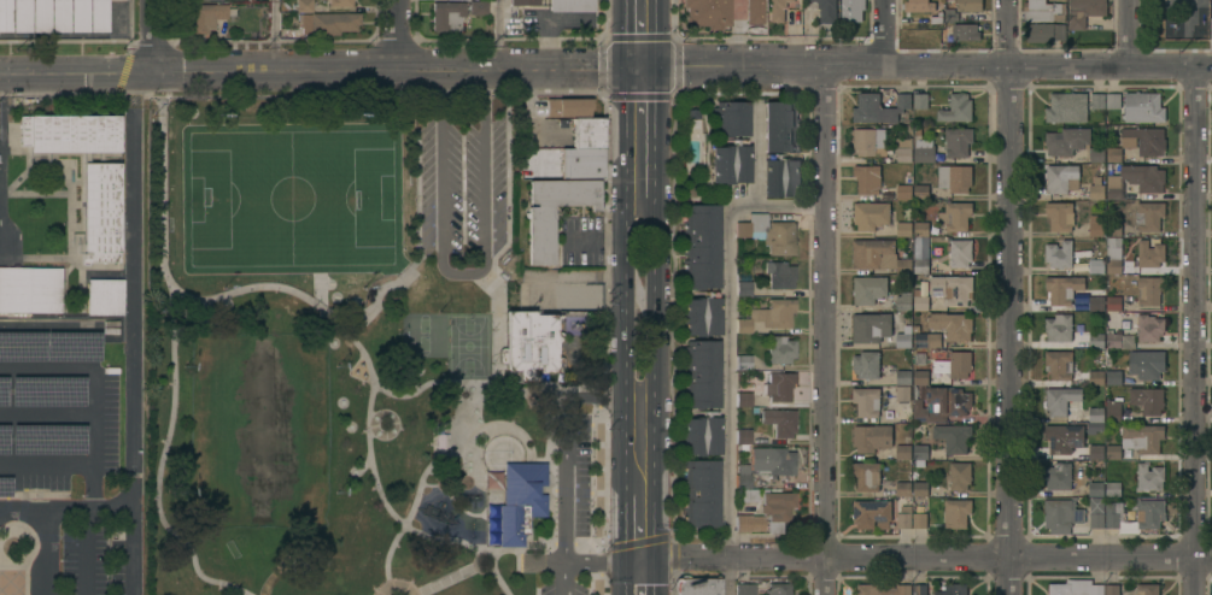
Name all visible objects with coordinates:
building: (197, 0)
building: (522, 2)
building: (339, 4)
building: (570, 5)
building: (919, 5)
building: (968, 5)
building: (303, 6)
building: (478, 7)
building: (777, 10)
building: (826, 10)
building: (851, 10)
building: (1043, 10)
building: (754, 11)
building: (1084, 11)
building: (708, 13)
building: (4, 16)
building: (19, 16)
building: (39, 16)
building: (58, 16)
building: (77, 16)
building: (96, 16)
building: (446, 16)
building: (204, 17)
building: (333, 23)
building: (965, 31)
building: (1044, 31)
road: (494, 34)
road: (625, 34)
road: (657, 34)
road: (890, 34)
road: (1132, 34)
road: (273, 35)
road: (403, 35)
road: (154, 36)
road: (605, 67)
traffic signals: (626, 67)
traffic signals: (657, 67)
building: (920, 100)
building: (1097, 100)
building: (1112, 100)
building: (879, 107)
building: (1066, 107)
building: (1143, 107)
building: (956, 108)
road: (508, 111)
building: (730, 119)
building: (780, 126)
building: (586, 132)
road: (625, 136)
building: (1066, 140)
building: (1146, 140)
building: (868, 141)
building: (958, 141)
road: (657, 147)
building: (924, 149)
building: (903, 154)
building: (1096, 154)
building: (1113, 154)
building: (580, 163)
building: (730, 163)
road: (162, 165)
building: (86, 172)
building: (780, 176)
parking lot: (462, 177)
building: (955, 177)
building: (867, 178)
building: (1061, 178)
building: (1135, 181)
building: (903, 192)
building: (920, 192)
building: (1096, 192)
park: (294, 199)
building: (871, 214)
building: (955, 216)
building: (1060, 216)
building: (1149, 216)
building: (1096, 224)
building: (903, 229)
building: (921, 229)
building: (1113, 229)
building: (768, 234)
building: (539, 237)
building: (701, 246)
building: (959, 253)
building: (1059, 254)
building: (1113, 254)
building: (878, 255)
building: (1150, 255)
building: (920, 265)
building: (1096, 266)
building: (779, 275)
road: (464, 276)
building: (743, 288)
building: (1062, 288)
building: (870, 289)
building: (953, 289)
building: (1149, 289)
building: (30, 290)
building: (104, 296)
building: (920, 297)
road: (1012, 297)
building: (903, 300)
building: (1096, 302)
building: (1113, 304)
building: (775, 313)
building: (701, 316)
building: (742, 325)
building: (952, 325)
building: (871, 326)
building: (1149, 326)
building: (1059, 328)
road: (825, 331)
road: (1195, 331)
road: (130, 332)
building: (904, 337)
building: (927, 340)
building: (1096, 340)
building: (1119, 340)
park: (376, 342)
road: (625, 342)
building: (529, 344)
park: (469, 346)
building: (49, 348)
building: (780, 349)
road: (730, 354)
building: (742, 363)
building: (952, 363)
building: (866, 364)
building: (1059, 364)
building: (1147, 364)
building: (1111, 372)
building: (701, 375)
building: (903, 377)
building: (920, 377)
building: (1096, 377)
building: (780, 387)
building: (47, 391)
building: (2, 393)
building: (900, 393)
road: (657, 394)
road: (601, 399)
building: (1060, 399)
road: (597, 400)
building: (743, 400)
building: (1147, 400)
building: (867, 401)
building: (943, 403)
building: (1113, 410)
road: (46, 416)
road: (92, 417)
parking lot: (58, 419)
building: (1095, 419)
building: (779, 422)
road: (394, 423)
road: (370, 428)
park: (258, 434)
building: (701, 436)
building: (872, 436)
building: (954, 437)
building: (1065, 437)
building: (1142, 437)
building: (742, 438)
building: (4, 440)
building: (48, 441)
building: (439, 444)
road: (432, 449)
building: (904, 450)
building: (921, 452)
building: (1096, 452)
building: (1113, 452)
road: (176, 458)
building: (772, 461)
road: (362, 470)
road: (552, 472)
building: (866, 475)
parking lot: (574, 476)
building: (959, 476)
building: (1059, 476)
building: (742, 477)
building: (1149, 477)
road: (599, 478)
building: (491, 481)
road: (567, 481)
building: (5, 488)
building: (903, 489)
building: (920, 489)
building: (1096, 489)
building: (1113, 489)
building: (699, 494)
building: (520, 500)
road: (64, 511)
building: (872, 513)
building: (956, 513)
building: (768, 514)
building: (1062, 514)
building: (1125, 514)
building: (904, 517)
building: (920, 520)
road: (625, 522)
road: (445, 541)
road: (46, 553)
road: (87, 553)
parking lot: (88, 556)
road: (918, 559)
traffic signals: (656, 561)
road: (595, 562)
road: (598, 562)
traffic signals: (625, 562)
road: (478, 567)
road: (564, 578)
road: (625, 578)
road: (656, 578)
road: (396, 581)
road: (447, 581)
road: (498, 581)
road: (597, 584)
building: (696, 585)
parking lot: (567, 587)
building: (884, 588)
building: (1076, 588)
building: (744, 589)
building: (777, 589)
building: (919, 589)
building: (953, 589)
building: (1112, 589)
building: (1147, 589)
road: (537, 591)

